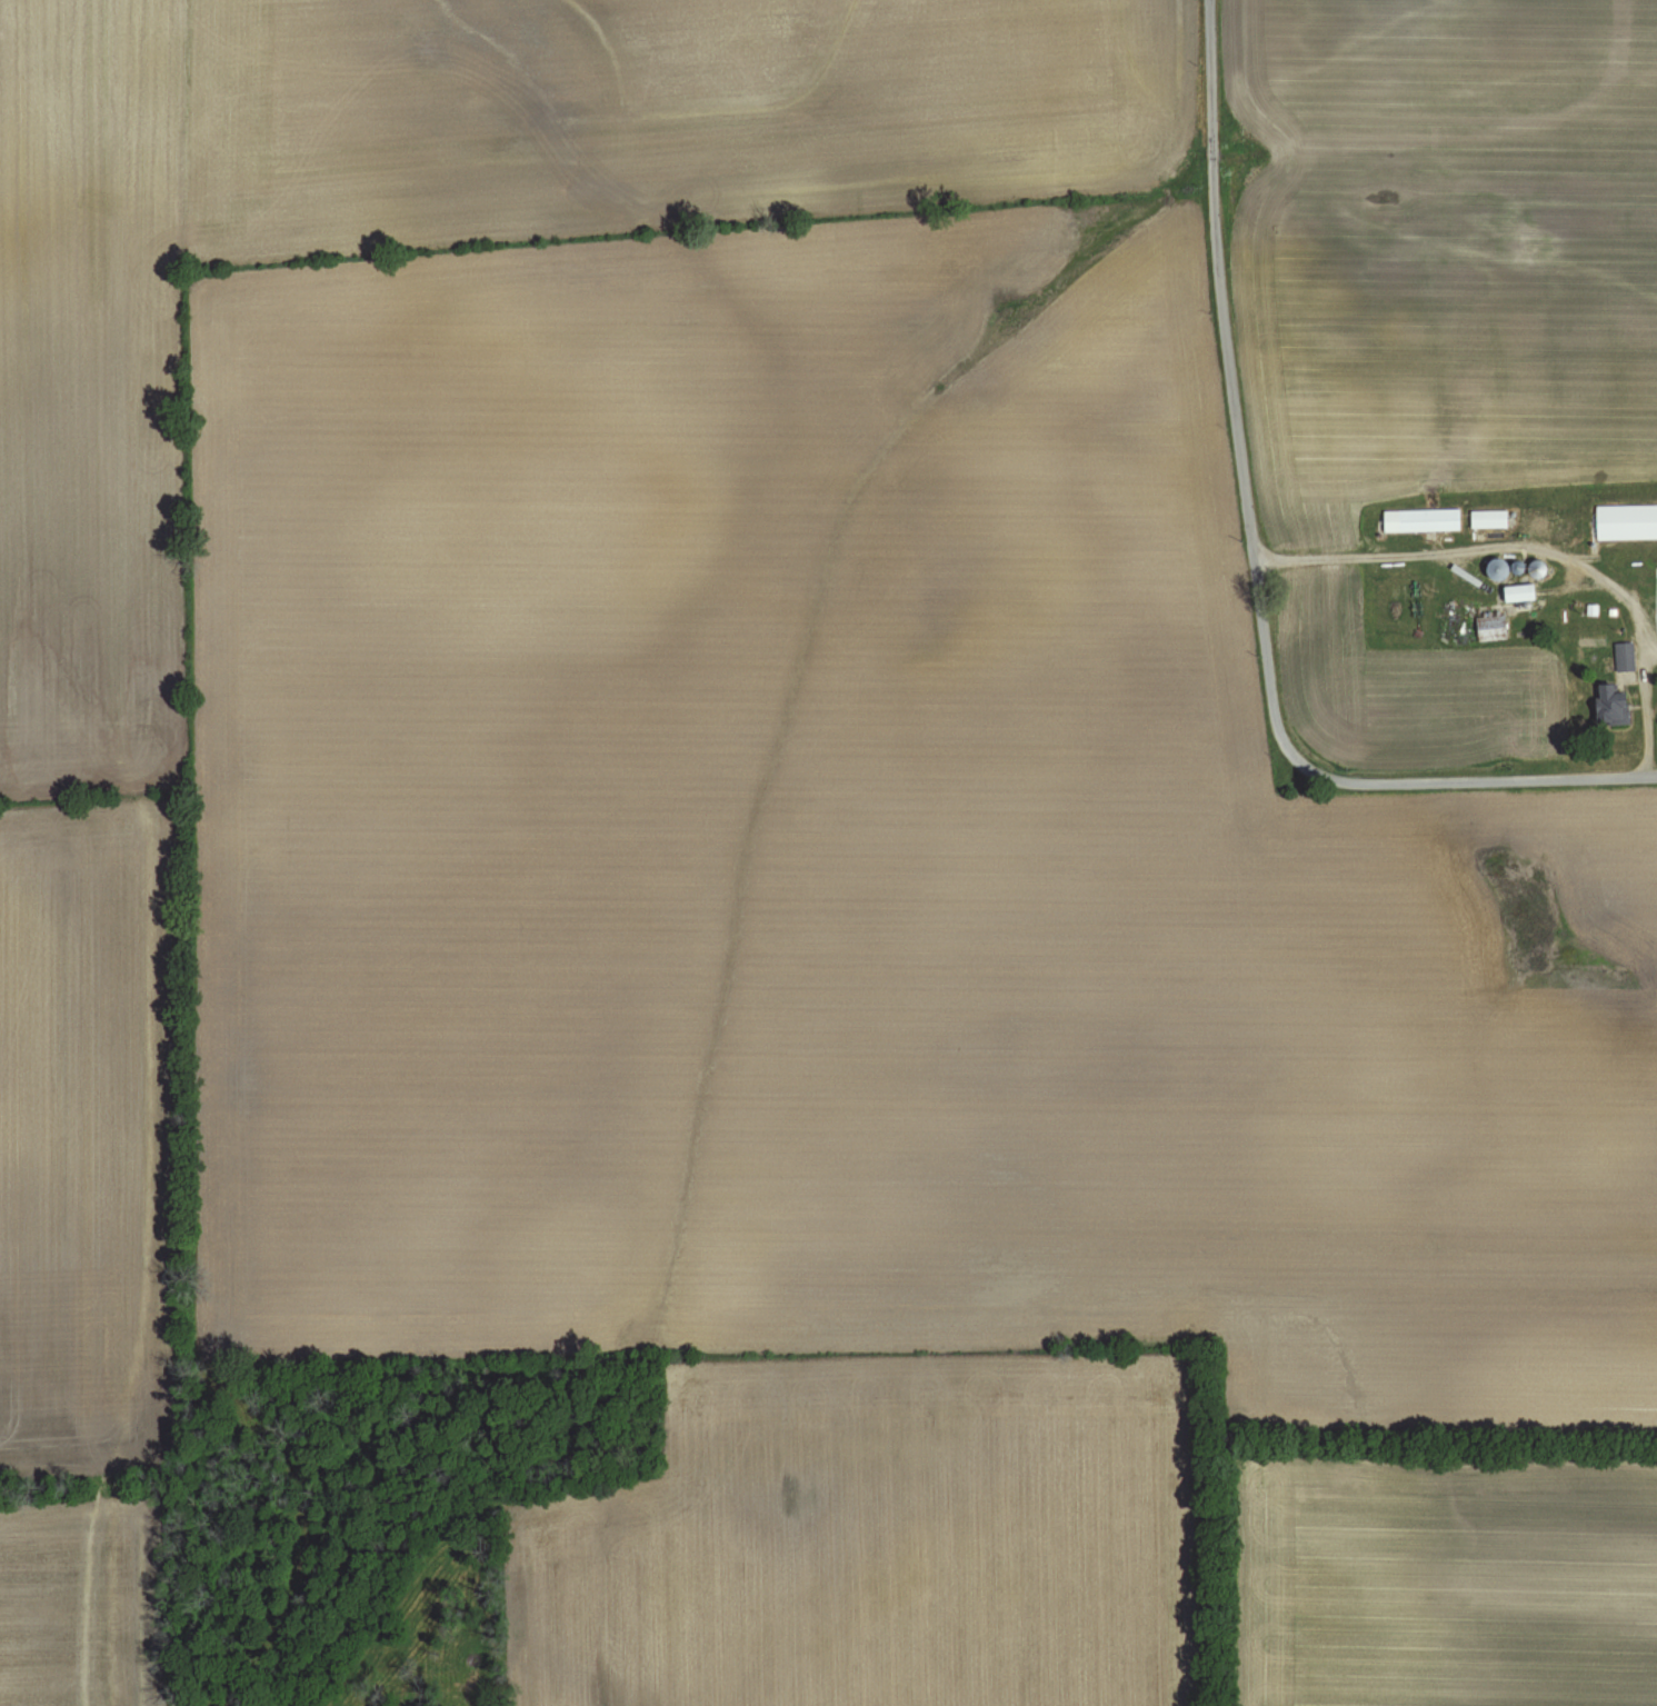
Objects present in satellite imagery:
road: (1230, 383)
building: (1489, 519)
building: (1421, 521)
building: (1626, 522)
road: (1470, 555)
building: (1515, 592)
building: (1490, 628)
building: (1624, 657)
building: (1610, 706)
road: (1649, 710)
road: (1473, 779)

